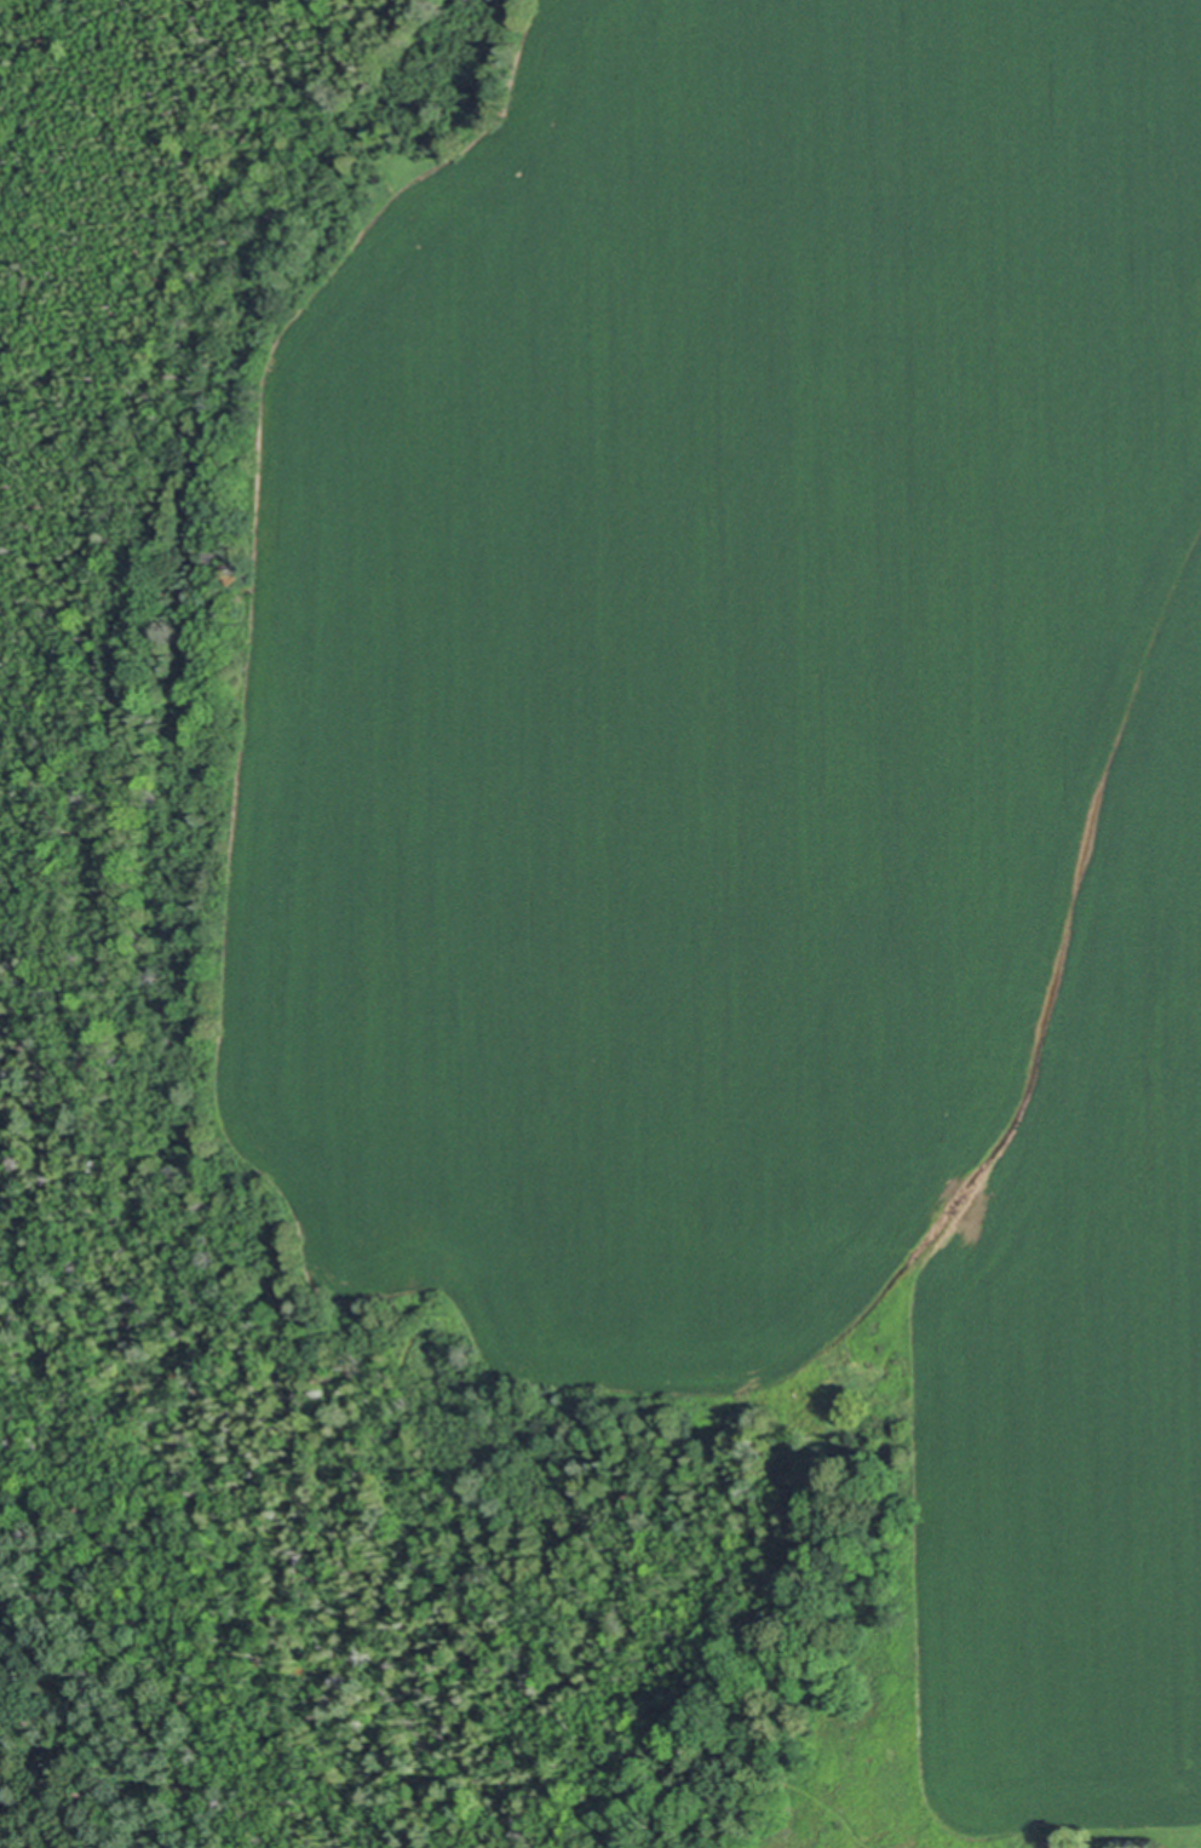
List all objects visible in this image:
road: (100, 1712)

